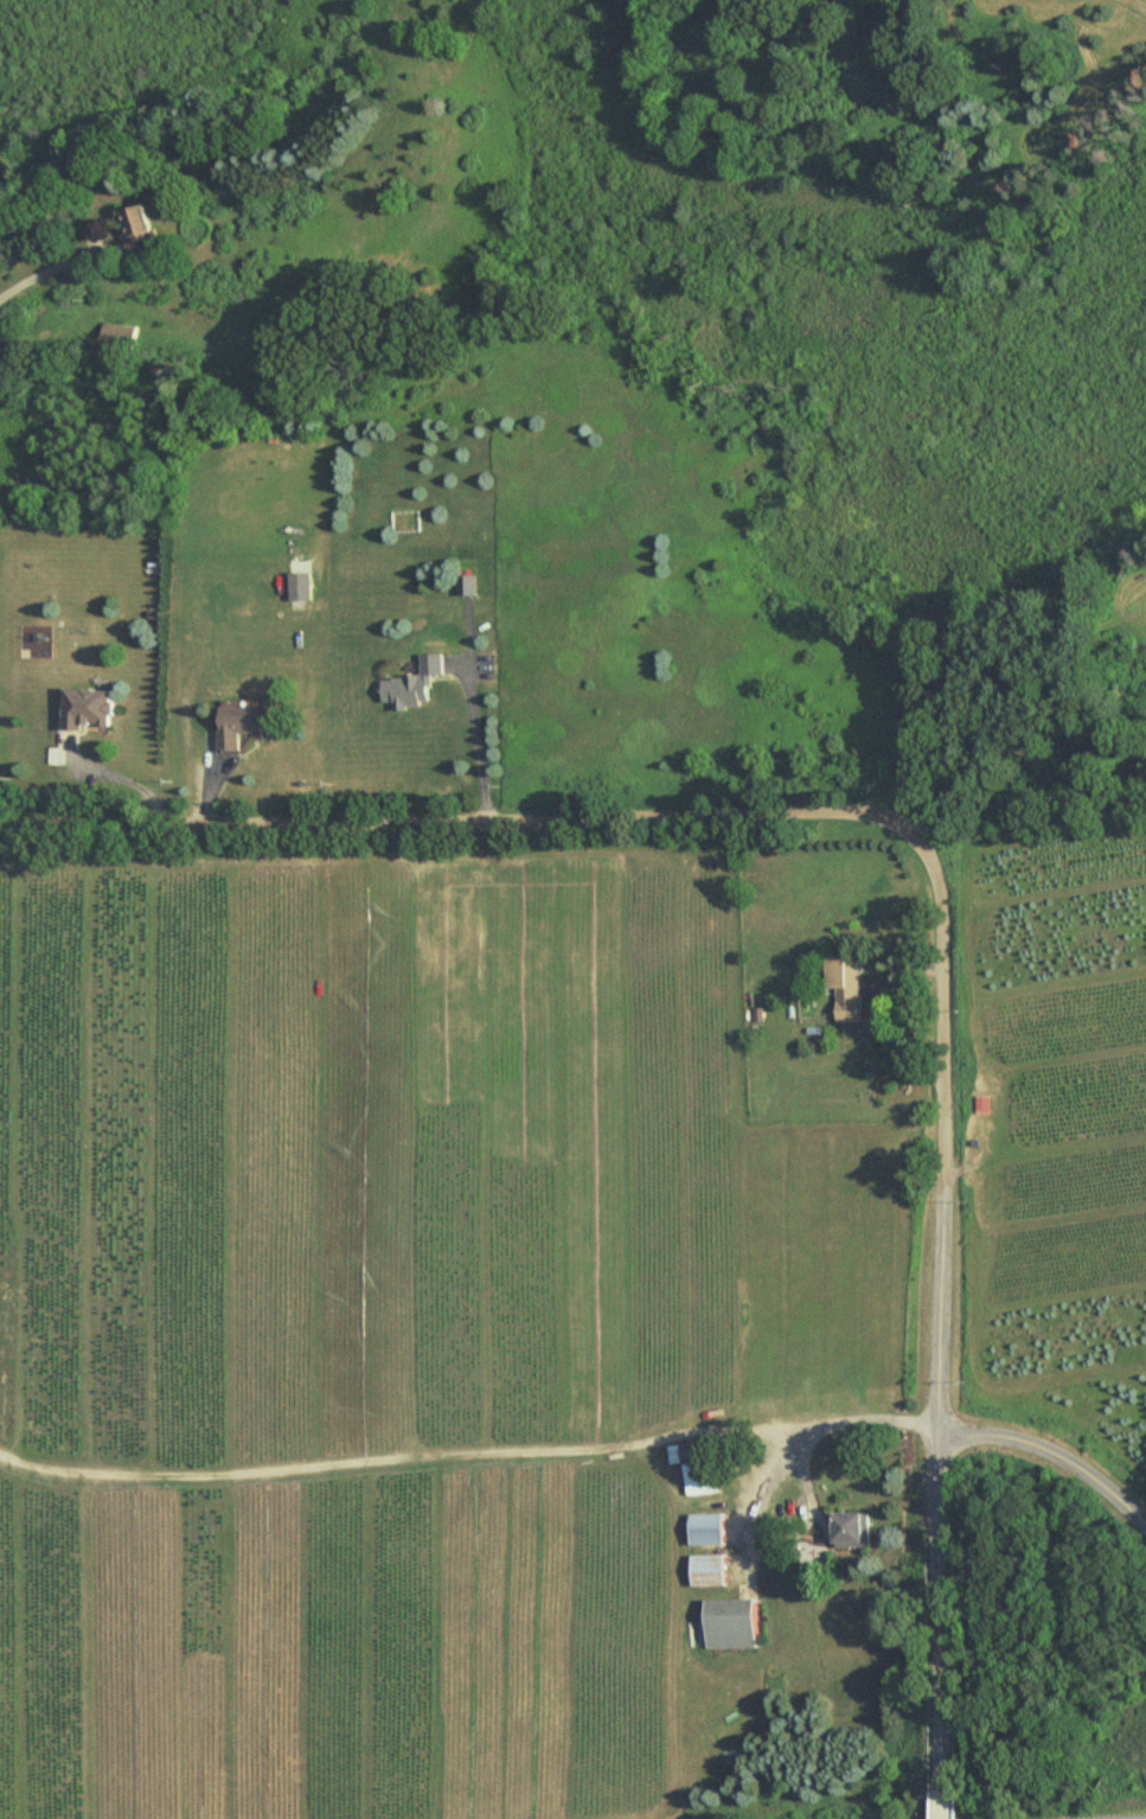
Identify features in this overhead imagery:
crop: (1063, 31)
building: (145, 230)
road: (47, 260)
building: (116, 338)
building: (468, 586)
building: (303, 587)
crop: (1127, 594)
building: (418, 685)
building: (91, 709)
building: (249, 725)
road: (481, 732)
road: (625, 805)
building: (843, 982)
road: (903, 1041)
building: (974, 1108)
crop: (1063, 1140)
crop: (352, 1326)
road: (467, 1449)
road: (1054, 1453)
building: (704, 1466)
road: (935, 1477)
building: (711, 1528)
building: (856, 1530)
building: (711, 1570)
building: (731, 1622)
road: (933, 1808)

